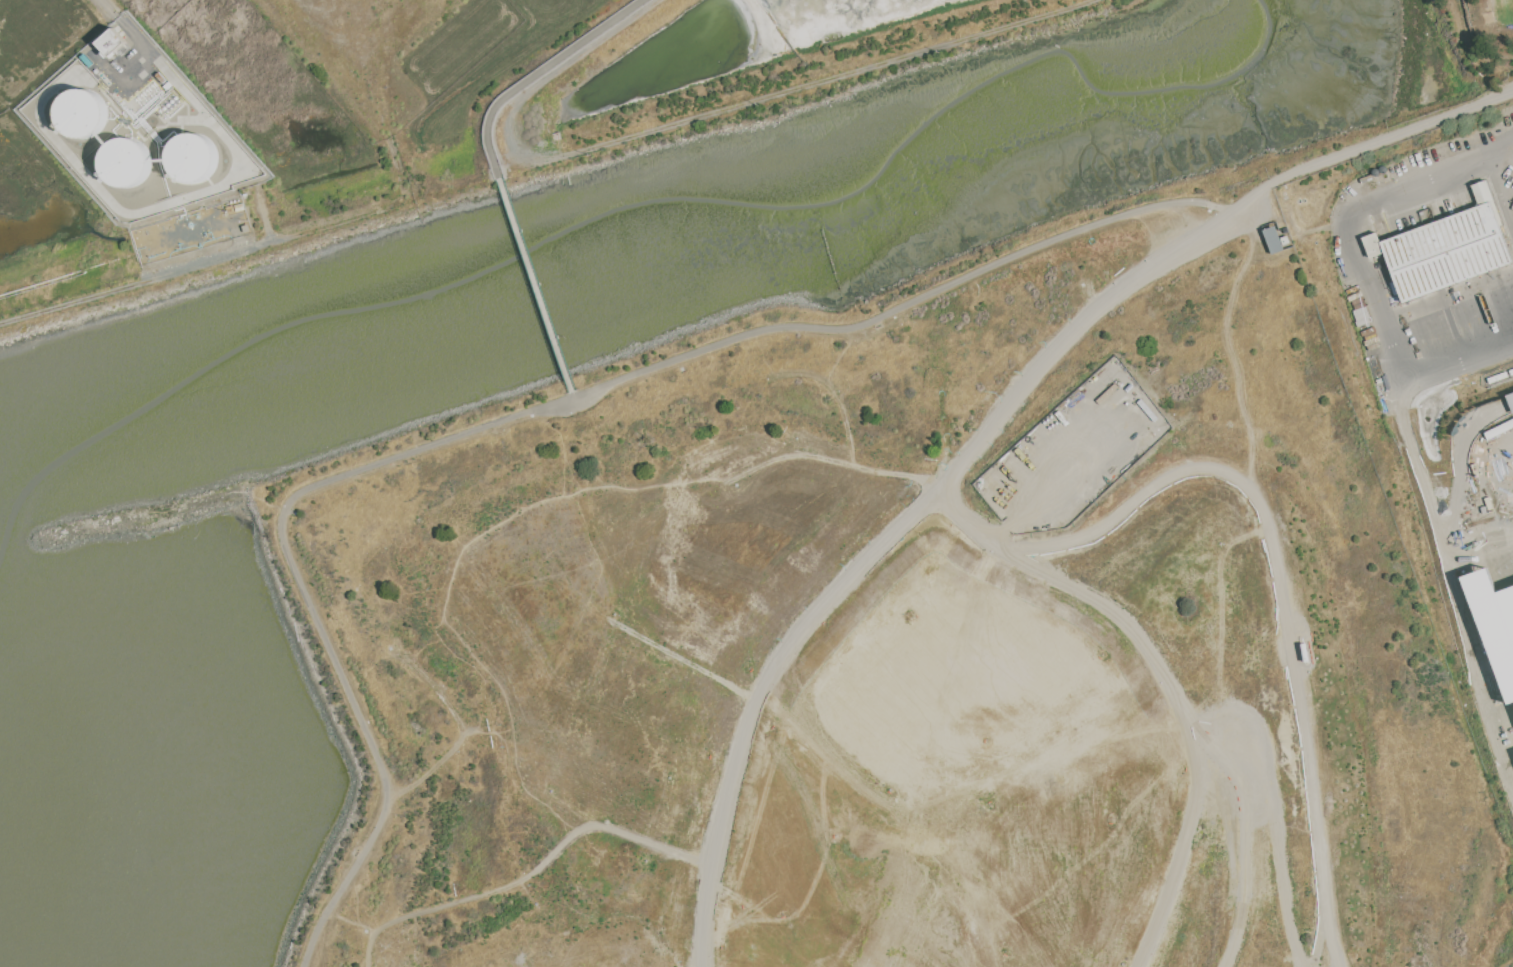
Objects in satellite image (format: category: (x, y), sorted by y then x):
building: (112, 42)
road: (537, 73)
building: (81, 113)
storage tank: (81, 113)
road: (694, 121)
airport: (237, 135)
building: (191, 156)
storage tank: (191, 156)
building: (126, 162)
storage tank: (126, 162)
road: (194, 195)
road: (1502, 195)
building: (1486, 198)
building: (1272, 239)
building: (1373, 244)
building: (1446, 252)
road: (1359, 267)
road: (535, 285)
road: (1449, 315)
road: (1234, 366)
road: (573, 394)
building: (1510, 400)
road: (522, 415)
road: (989, 427)
road: (1220, 447)
road: (1237, 530)
road: (1457, 607)
road: (683, 659)
road: (432, 688)
road: (433, 768)
road: (530, 874)
road: (352, 920)
road: (697, 963)

